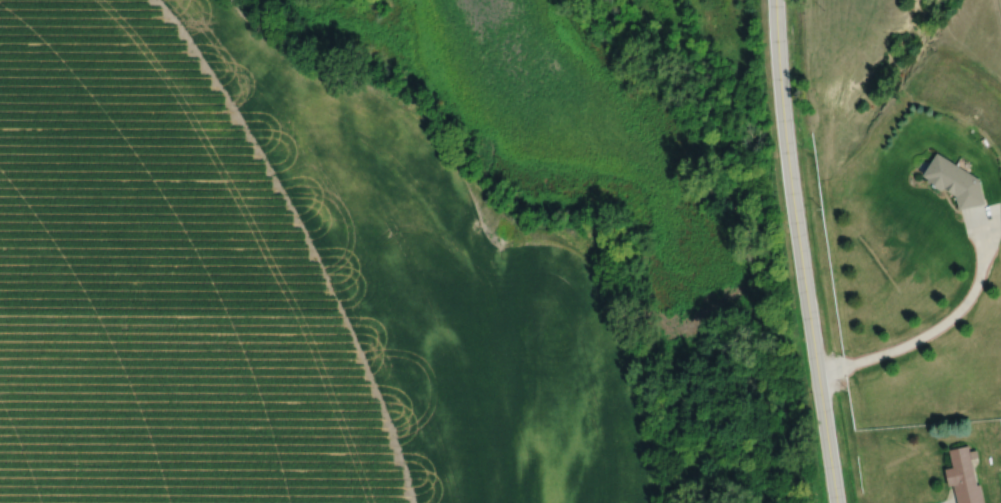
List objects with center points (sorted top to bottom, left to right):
building: (952, 180)
road: (803, 251)
road: (938, 327)
building: (962, 476)

